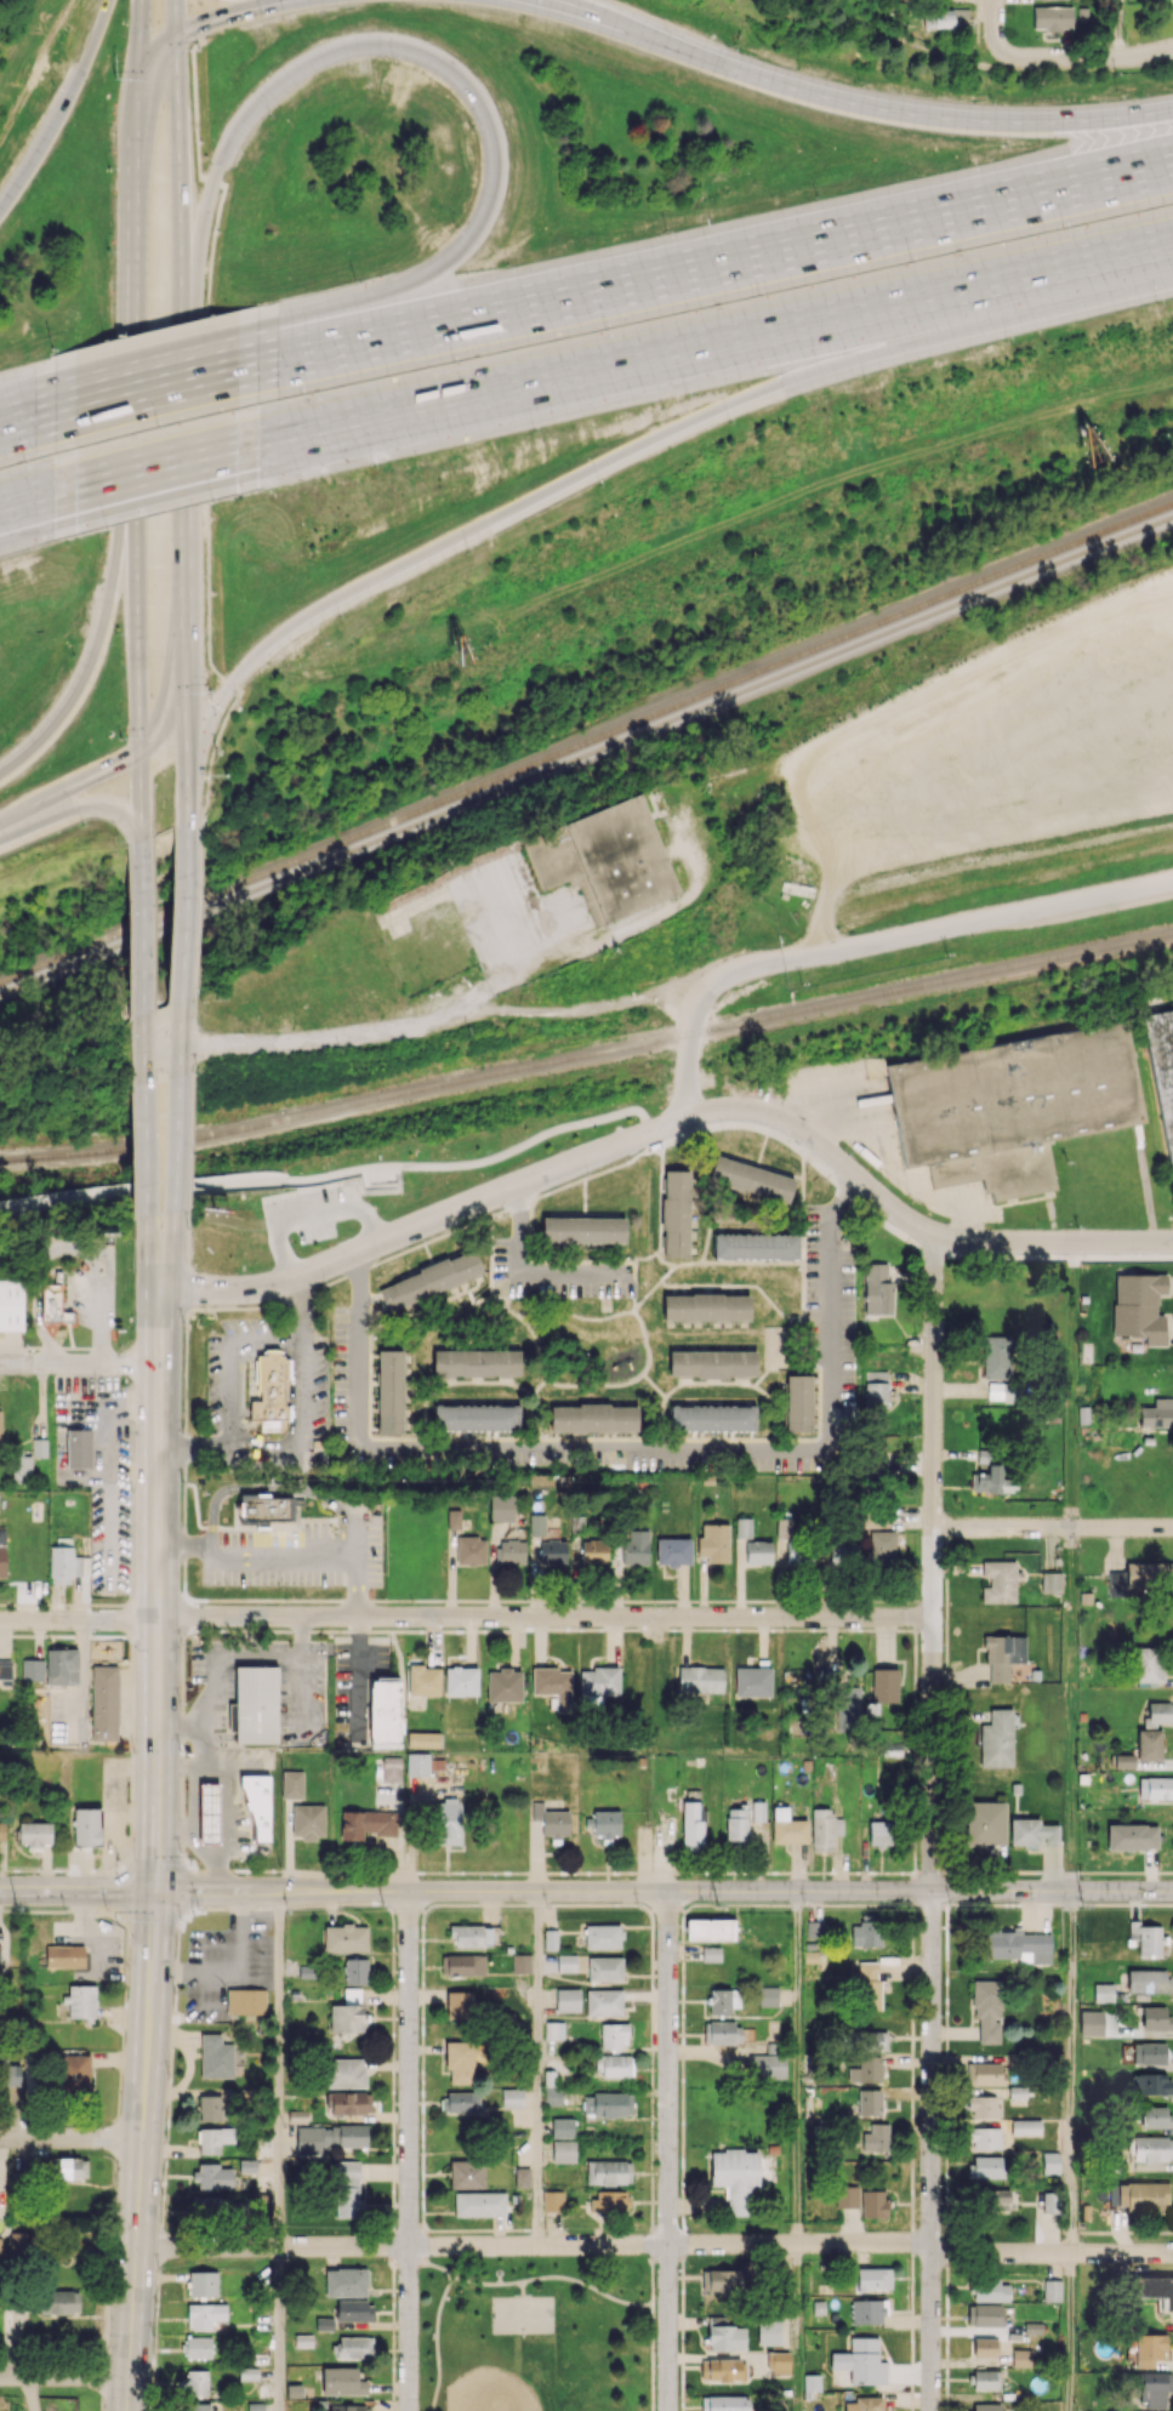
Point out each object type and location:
road: (224, 15)
road: (173, 16)
building: (1053, 17)
building: (941, 18)
road: (597, 19)
road: (993, 19)
traffic signals: (206, 21)
traffic signals: (139, 25)
road: (138, 30)
road: (369, 42)
street lamp: (734, 44)
road: (154, 45)
street lamp: (199, 50)
road: (1081, 57)
street lamp: (392, 63)
traffic signals: (176, 74)
street lamp: (113, 78)
street lamp: (859, 81)
street lamp: (53, 85)
road: (194, 90)
street lamp: (1116, 91)
street lamp: (990, 97)
road: (61, 107)
road: (916, 113)
street lamp: (269, 115)
street lamp: (469, 127)
street lamp: (203, 141)
road: (136, 161)
street lamp: (968, 163)
street lamp: (108, 167)
road: (178, 172)
street lamp: (815, 194)
street lamp: (454, 227)
street lamp: (1063, 228)
street lamp: (665, 229)
street lamp: (220, 232)
road: (212, 241)
street lamp: (107, 249)
street lamp: (910, 261)
street lamp: (506, 263)
road: (714, 263)
street lamp: (353, 279)
road: (970, 289)
street lamp: (758, 295)
road: (136, 298)
street lamp: (1155, 304)
road: (331, 307)
street lamp: (211, 315)
road: (180, 319)
street lamp: (603, 329)
street lamp: (107, 342)
street lamp: (1004, 342)
road: (155, 354)
street lamp: (452, 361)
street lamp: (862, 377)
road: (154, 386)
road: (513, 386)
road: (27, 392)
street lamp: (300, 393)
street lamp: (684, 398)
road: (513, 403)
road: (206, 407)
road: (180, 415)
road: (27, 417)
street lamp: (728, 422)
street lamp: (156, 424)
road: (136, 426)
street lamp: (531, 432)
road: (611, 457)
street lamp: (23, 461)
road: (155, 463)
street lamp: (371, 467)
street lamp: (598, 485)
road: (155, 496)
road: (27, 497)
street lamp: (211, 500)
street lamp: (213, 517)
road: (180, 519)
street lamp: (104, 525)
road: (27, 531)
street lamp: (98, 549)
street lamp: (465, 552)
street lamp: (212, 593)
road: (207, 595)
road: (181, 610)
street lamp: (337, 617)
street lamp: (114, 635)
street lamp: (72, 655)
road: (91, 660)
road: (137, 679)
street lamp: (207, 690)
street lamp: (238, 709)
traffic signals: (138, 711)
street lamp: (119, 737)
traffic signals: (183, 741)
street lamp: (7, 742)
road: (217, 742)
railway: (586, 743)
road: (183, 756)
railway: (586, 756)
traffic signals: (123, 759)
road: (102, 769)
road: (78, 803)
street lamp: (81, 823)
street lamp: (115, 839)
building: (604, 859)
road: (199, 906)
road: (183, 911)
road: (976, 919)
road: (142, 928)
road: (697, 1014)
road: (180, 1037)
road: (201, 1037)
road: (331, 1039)
road: (143, 1048)
railway: (587, 1055)
building: (1162, 1071)
building: (1010, 1105)
road: (672, 1125)
road: (655, 1129)
road: (176, 1141)
road: (190, 1144)
road: (144, 1148)
building: (66, 1152)
road: (329, 1178)
building: (751, 1179)
building: (676, 1213)
building: (582, 1229)
road: (901, 1232)
road: (432, 1241)
building: (756, 1246)
road: (170, 1250)
road: (148, 1254)
road: (353, 1255)
road: (188, 1264)
road: (528, 1267)
building: (428, 1279)
building: (877, 1289)
road: (643, 1295)
building: (52, 1304)
building: (11, 1305)
road: (301, 1306)
building: (706, 1306)
building: (1139, 1306)
road: (307, 1345)
building: (996, 1356)
building: (476, 1362)
road: (79, 1363)
building: (712, 1363)
road: (1072, 1384)
building: (876, 1389)
building: (269, 1391)
building: (389, 1391)
building: (798, 1402)
building: (1156, 1413)
building: (476, 1417)
building: (593, 1418)
building: (712, 1418)
road: (195, 1444)
building: (39, 1447)
building: (79, 1448)
road: (659, 1449)
road: (184, 1467)
building: (19, 1469)
road: (109, 1470)
road: (133, 1474)
building: (991, 1474)
road: (275, 1487)
building: (263, 1507)
building: (501, 1507)
building: (454, 1518)
street lamp: (229, 1523)
building: (536, 1524)
building: (742, 1527)
building: (784, 1527)
road: (1052, 1527)
road: (354, 1531)
building: (713, 1541)
road: (186, 1546)
building: (882, 1546)
building: (636, 1548)
building: (471, 1550)
building: (512, 1551)
building: (593, 1551)
building: (673, 1551)
building: (552, 1552)
building: (758, 1552)
building: (798, 1552)
building: (841, 1552)
road: (281, 1556)
building: (1, 1561)
building: (66, 1563)
building: (1141, 1578)
building: (998, 1581)
building: (1050, 1581)
road: (355, 1586)
road: (466, 1617)
road: (300, 1635)
road: (257, 1653)
building: (1003, 1654)
building: (1148, 1665)
building: (62, 1666)
building: (32, 1669)
building: (5, 1670)
building: (700, 1678)
building: (423, 1680)
building: (461, 1681)
building: (752, 1681)
building: (503, 1685)
building: (598, 1685)
building: (884, 1685)
building: (553, 1686)
building: (104, 1703)
building: (256, 1704)
building: (848, 1706)
road: (1072, 1709)
building: (385, 1710)
building: (1157, 1712)
road: (178, 1729)
building: (997, 1738)
building: (423, 1739)
building: (1149, 1744)
road: (201, 1750)
building: (1123, 1761)
building: (417, 1763)
road: (241, 1765)
building: (392, 1768)
building: (291, 1784)
building: (1155, 1788)
building: (257, 1807)
road: (226, 1811)
building: (758, 1811)
building: (207, 1813)
building: (308, 1820)
building: (551, 1820)
building: (448, 1822)
road: (932, 1822)
building: (605, 1823)
building: (985, 1823)
building: (366, 1824)
building: (691, 1825)
building: (736, 1825)
building: (86, 1826)
building: (787, 1826)
building: (1, 1831)
building: (825, 1833)
building: (879, 1833)
building: (1032, 1833)
building: (34, 1834)
building: (1132, 1836)
road: (156, 1851)
road: (218, 1871)
traffic signals: (155, 1891)
road: (586, 1891)
building: (710, 1928)
building: (814, 1928)
building: (865, 1933)
building: (471, 1934)
building: (603, 1936)
building: (345, 1937)
building: (1146, 1937)
building: (550, 1939)
building: (1018, 1945)
building: (73, 1955)
building: (520, 1962)
building: (566, 1962)
building: (462, 1965)
building: (604, 1968)
building: (355, 1971)
building: (1148, 1980)
building: (867, 1985)
building: (1103, 1993)
building: (768, 1996)
building: (568, 2000)
building: (723, 2000)
building: (80, 2001)
building: (246, 2001)
building: (603, 2001)
building: (459, 2005)
building: (987, 2008)
building: (1155, 2018)
building: (553, 2030)
building: (722, 2033)
building: (613, 2035)
building: (871, 2040)
building: (1149, 2052)
building: (216, 2057)
building: (460, 2062)
building: (614, 2064)
building: (767, 2065)
road: (279, 2068)
road: (537, 2068)
road: (797, 2068)
building: (866, 2069)
building: (73, 2073)
building: (345, 2073)
building: (983, 2073)
road: (1071, 2073)
building: (10, 2075)
building: (1150, 2084)
building: (552, 2096)
building: (512, 2097)
building: (348, 2102)
building: (461, 2102)
building: (870, 2102)
building: (608, 2104)
building: (984, 2105)
building: (210, 2108)
building: (1155, 2116)
building: (1026, 2126)
building: (562, 2127)
road: (72, 2137)
building: (331, 2137)
building: (876, 2137)
building: (985, 2137)
building: (213, 2139)
building: (1152, 2148)
road: (409, 2150)
building: (563, 2150)
road: (668, 2151)
building: (1050, 2162)
building: (985, 2166)
building: (68, 2167)
building: (608, 2172)
building: (466, 2173)
building: (212, 2176)
building: (735, 2177)
building: (347, 2188)
building: (1143, 2195)
building: (845, 2196)
building: (993, 2199)
building: (608, 2200)
building: (873, 2202)
building: (1049, 2202)
building: (479, 2204)
building: (206, 2207)
building: (19, 2241)
road: (655, 2245)
building: (873, 2278)
road: (530, 2280)
building: (724, 2280)
building: (346, 2281)
building: (203, 2284)
building: (991, 2290)
building: (1052, 2290)
building: (1157, 2290)
building: (59, 2301)
building: (354, 2310)
building: (867, 2310)
building: (985, 2314)
building: (205, 2315)
park: (522, 2316)
building: (13, 2322)
road: (653, 2327)
road: (798, 2327)
road: (278, 2329)
building: (768, 2331)
road: (1070, 2332)
park: (535, 2333)
building: (724, 2335)
road: (437, 2342)
building: (198, 2347)
building: (354, 2347)
building: (984, 2347)
building: (1150, 2349)
building: (1021, 2358)
building: (861, 2361)
building: (779, 2362)
building: (723, 2370)
building: (247, 2373)
road: (64, 2376)
park: (519, 2377)
building: (986, 2379)
building: (342, 2381)
building: (194, 2382)
building: (810, 2383)
building: (1156, 2389)
building: (724, 2403)
building: (864, 2404)
building: (195, 2406)
building: (985, 2406)
building: (351, 2407)

